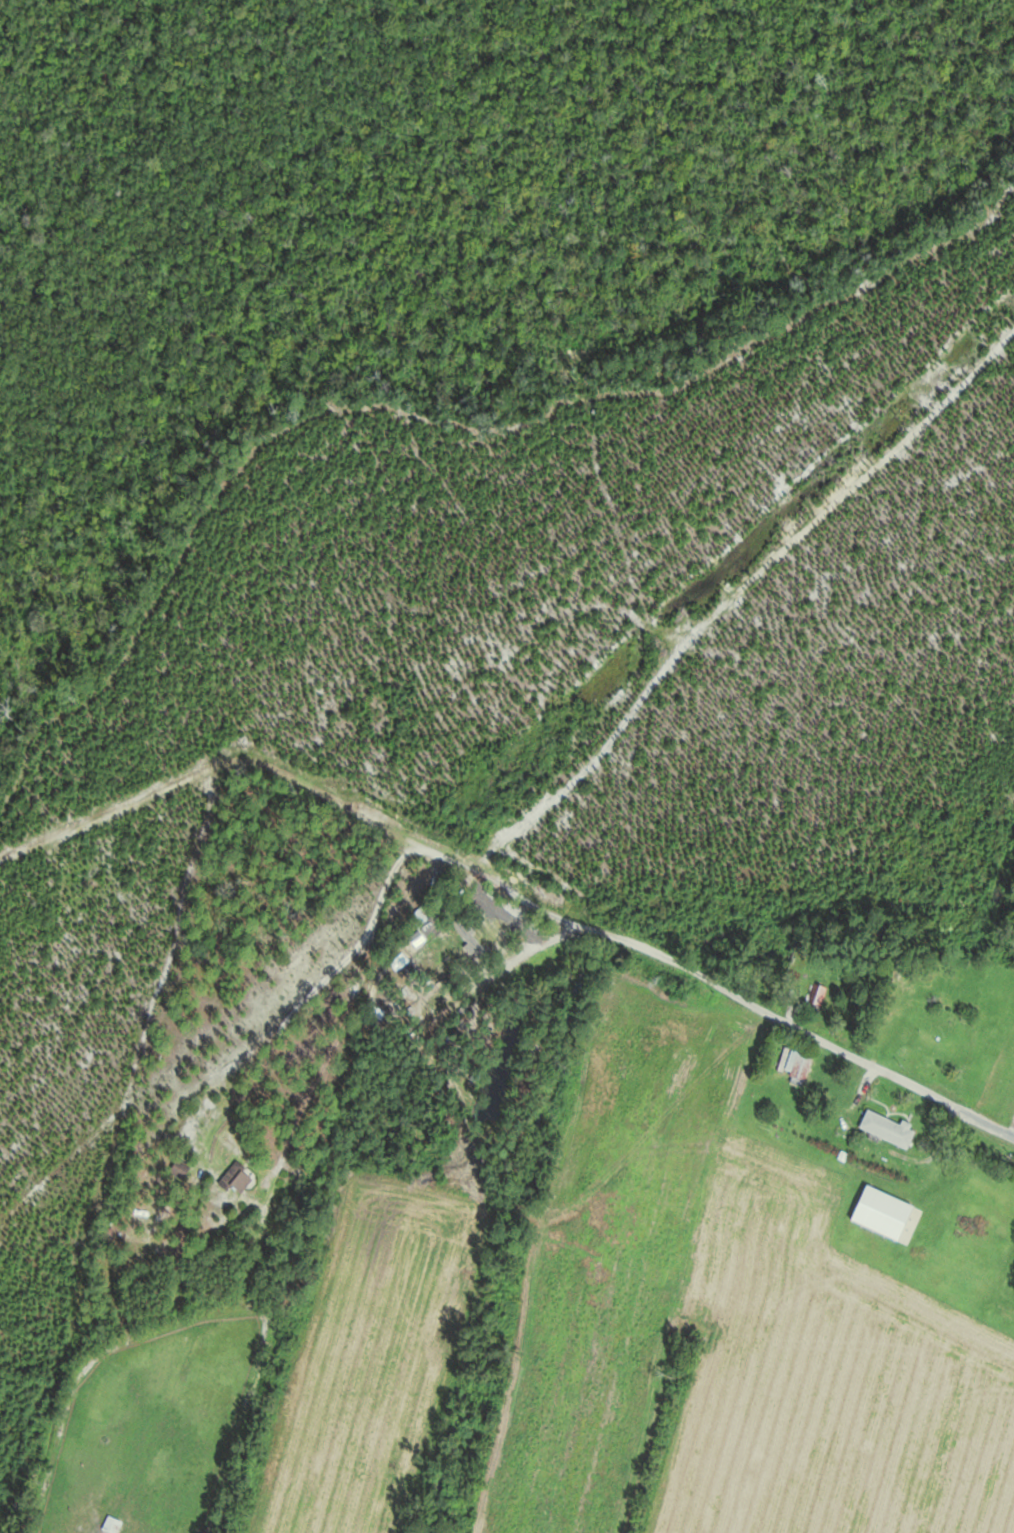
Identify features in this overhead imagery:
road: (204, 765)
road: (711, 980)
building: (816, 994)
building: (798, 1065)
road: (377, 1097)
building: (887, 1129)

